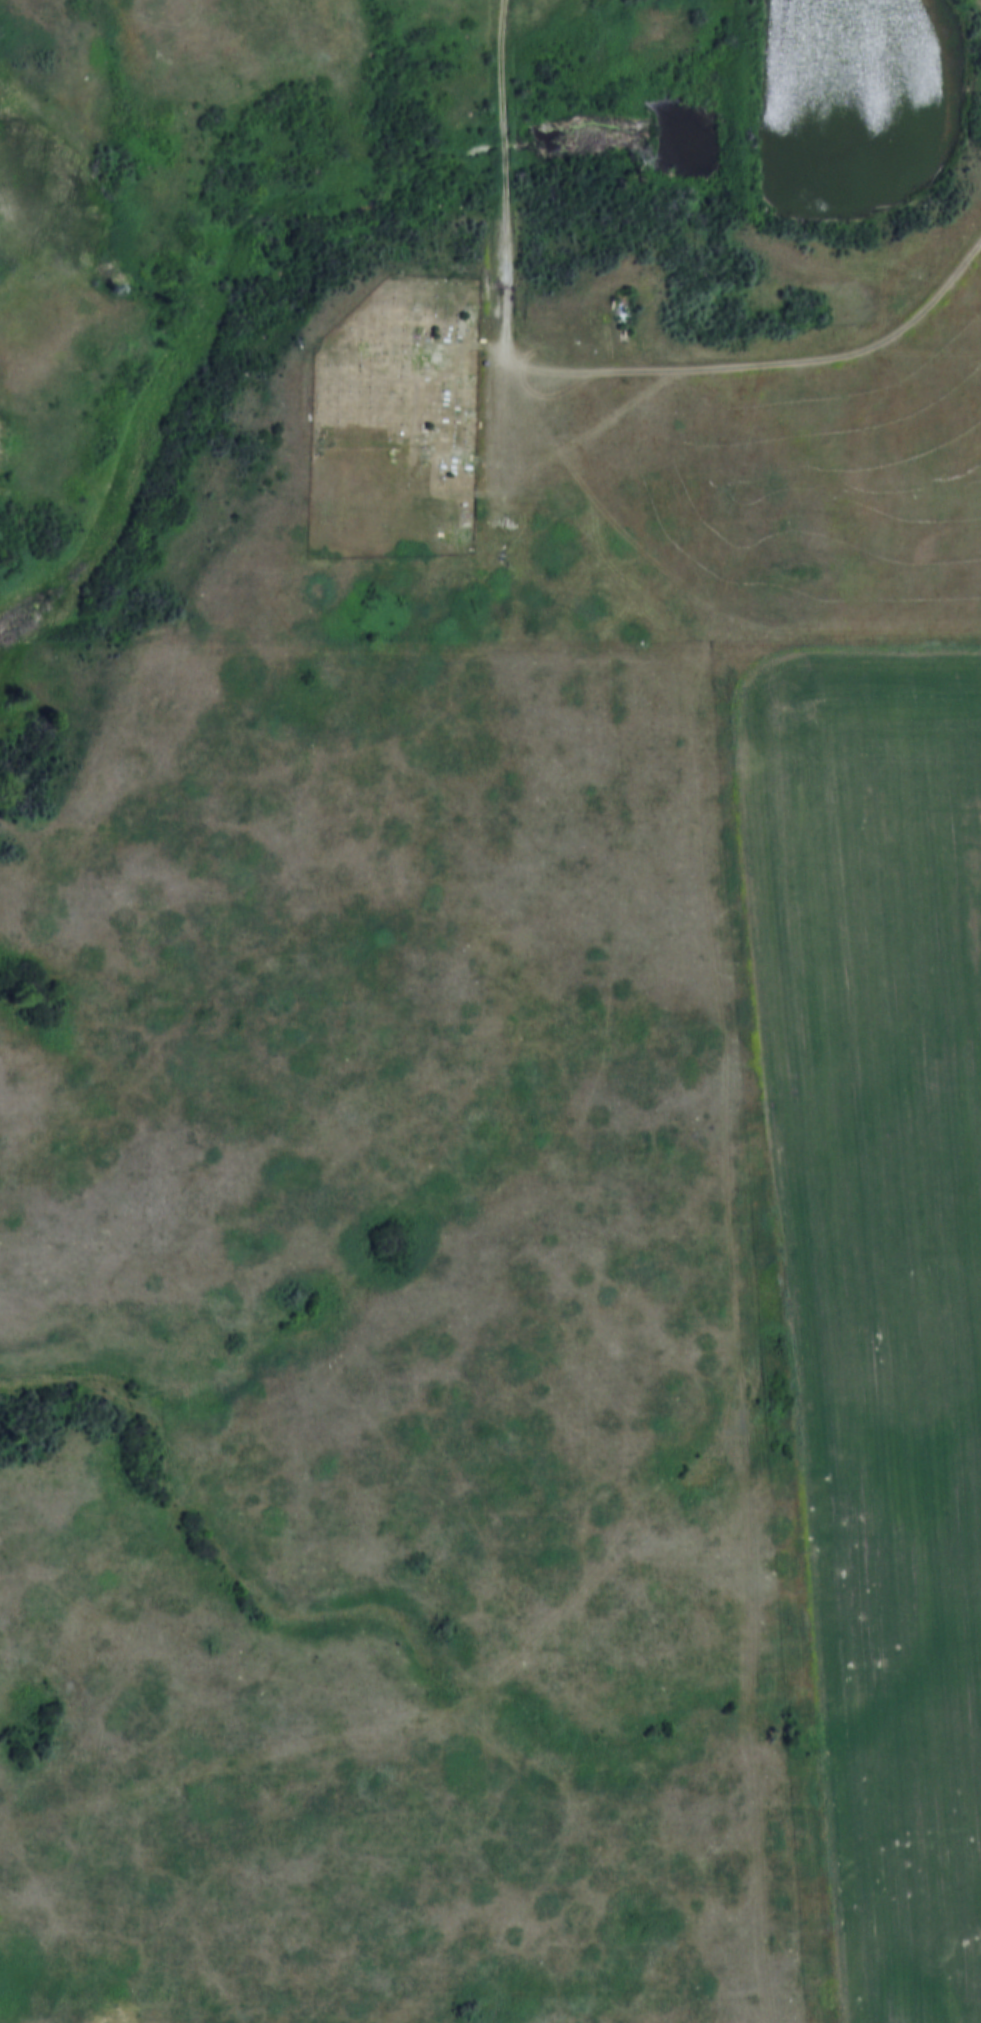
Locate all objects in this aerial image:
building: (628, 306)
road: (592, 370)
park: (404, 418)

